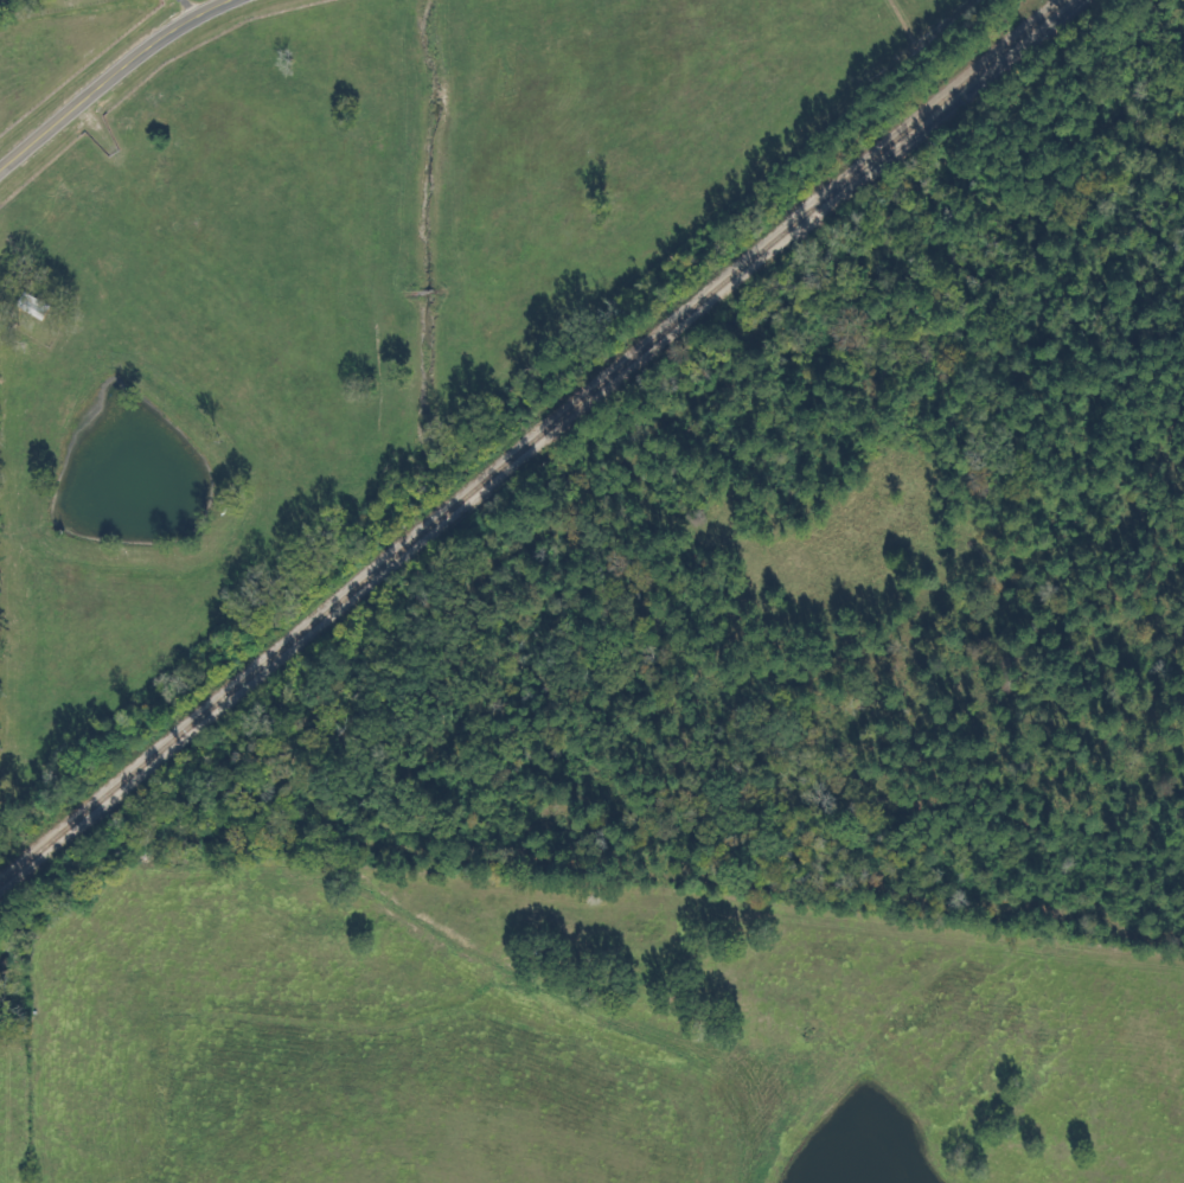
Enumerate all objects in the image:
road: (113, 78)
railway: (953, 103)
railway: (529, 437)

